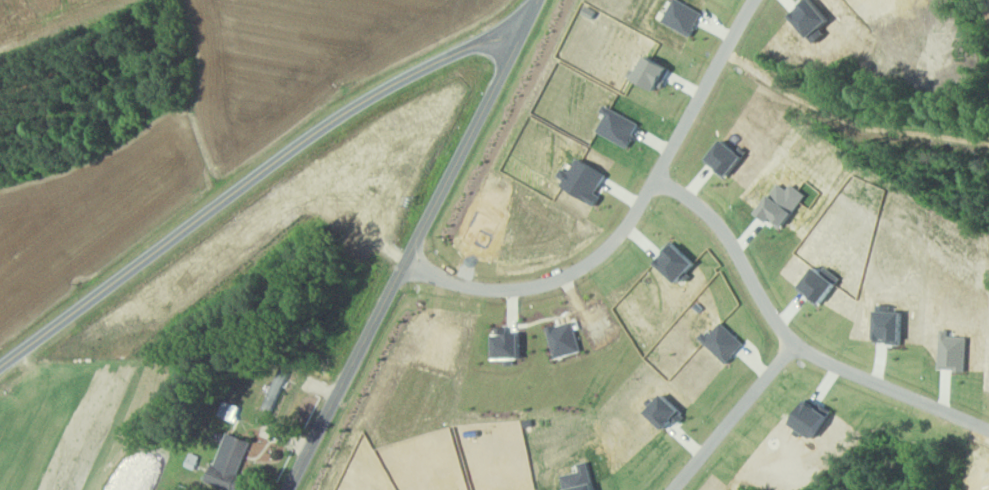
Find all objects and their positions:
road: (250, 179)
road: (628, 221)
road: (412, 245)
road: (735, 251)
road: (890, 388)
building: (277, 390)
road: (732, 416)
building: (231, 463)

